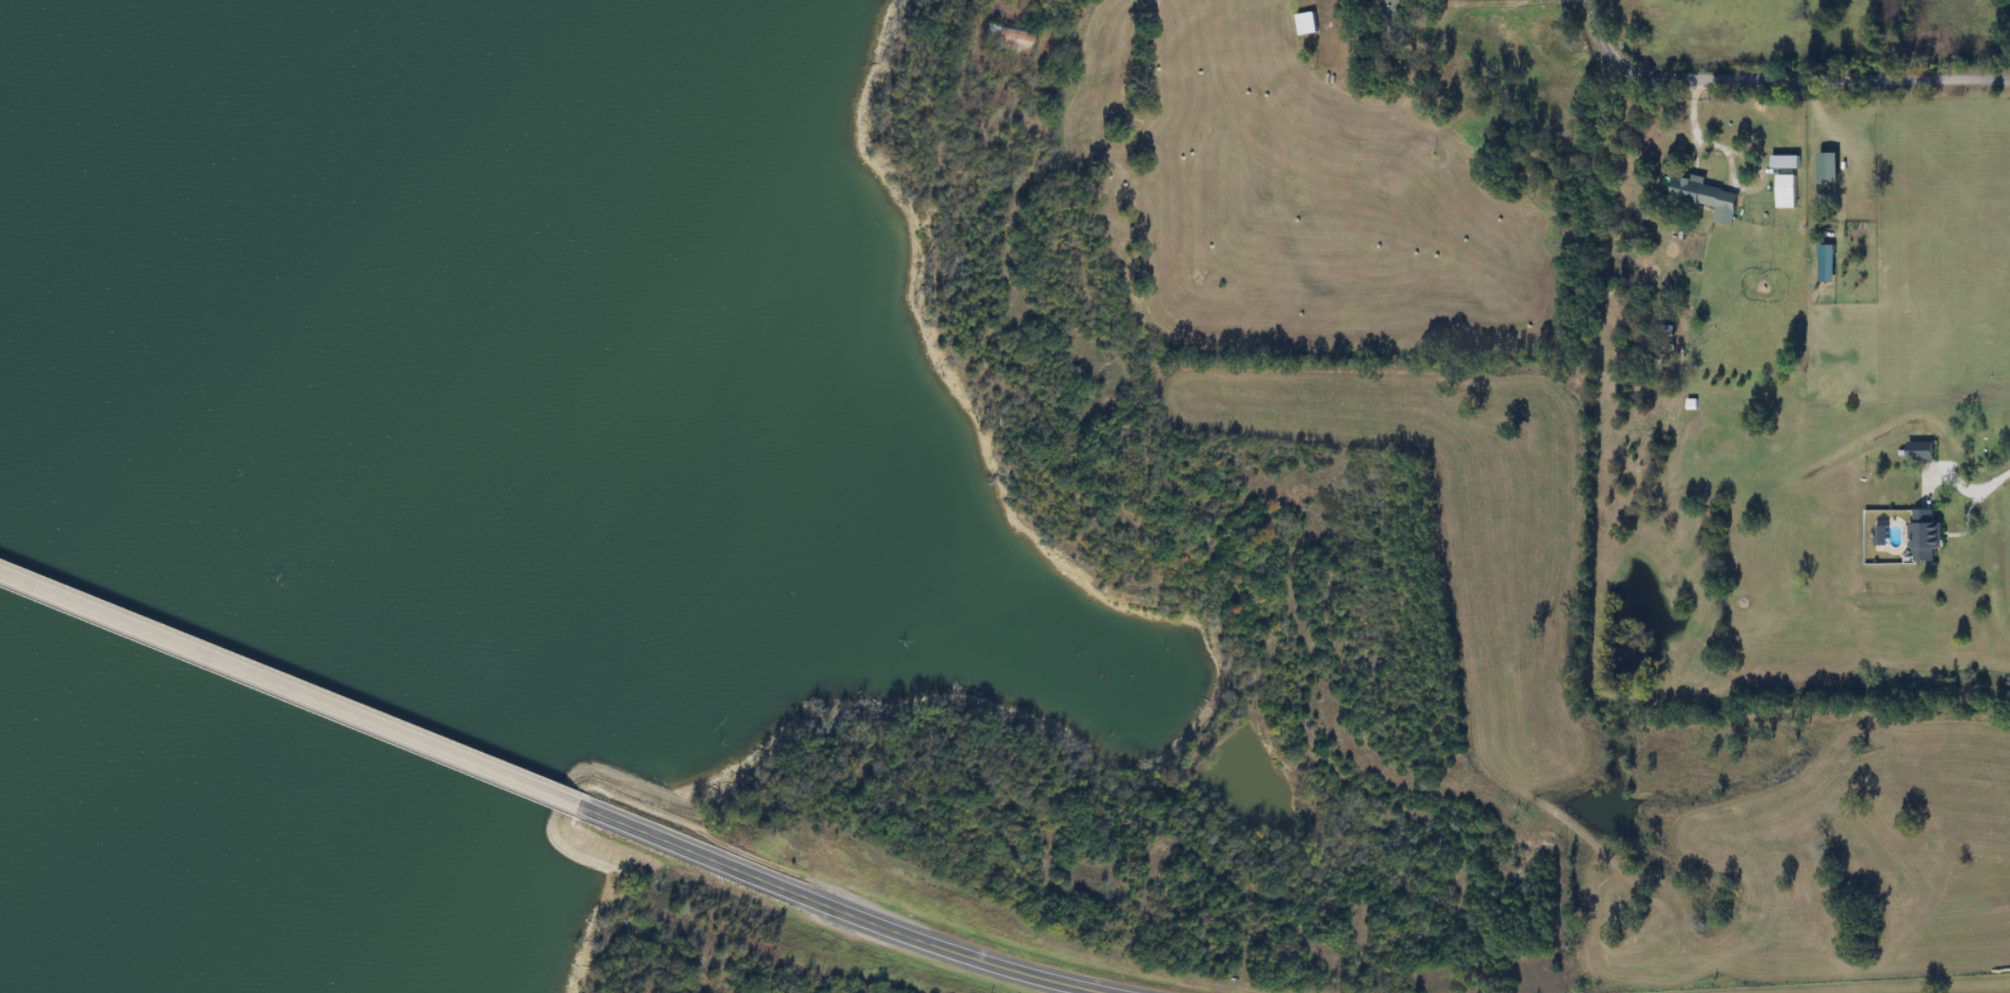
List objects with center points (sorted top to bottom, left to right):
road: (1502, 5)
building: (1390, 15)
building: (1306, 23)
road: (1772, 68)
road: (1692, 127)
building: (1784, 187)
building: (1701, 195)
river: (57, 230)
building: (1665, 330)
building: (1918, 450)
road: (1961, 484)
building: (1922, 534)
road: (289, 692)
road: (837, 905)

